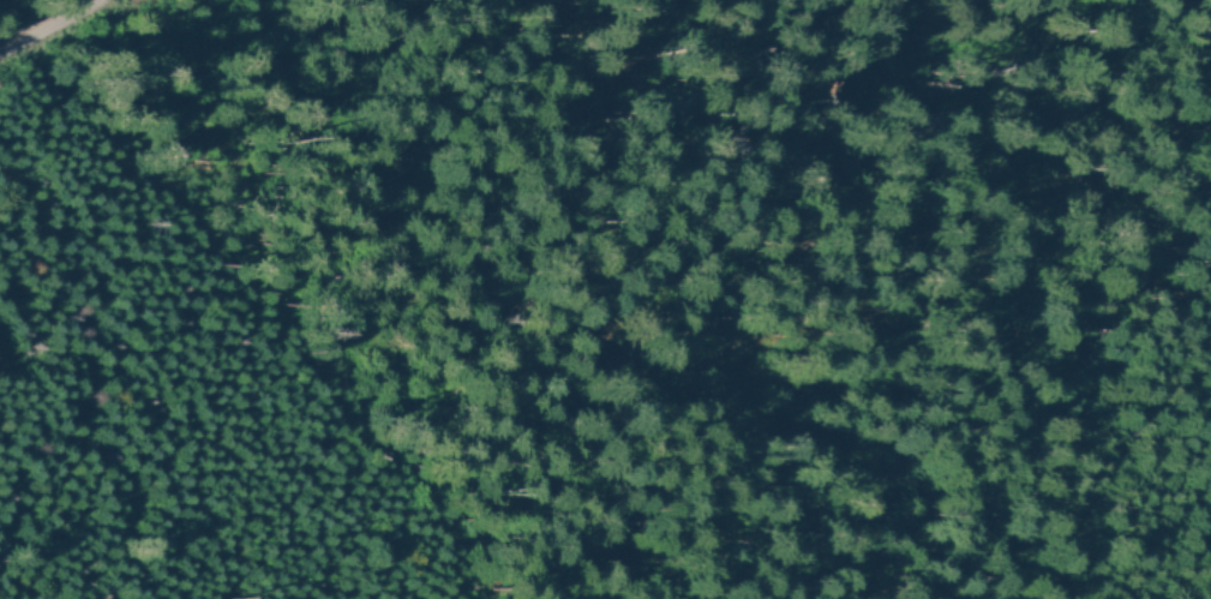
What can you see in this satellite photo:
road: (41, 22)

